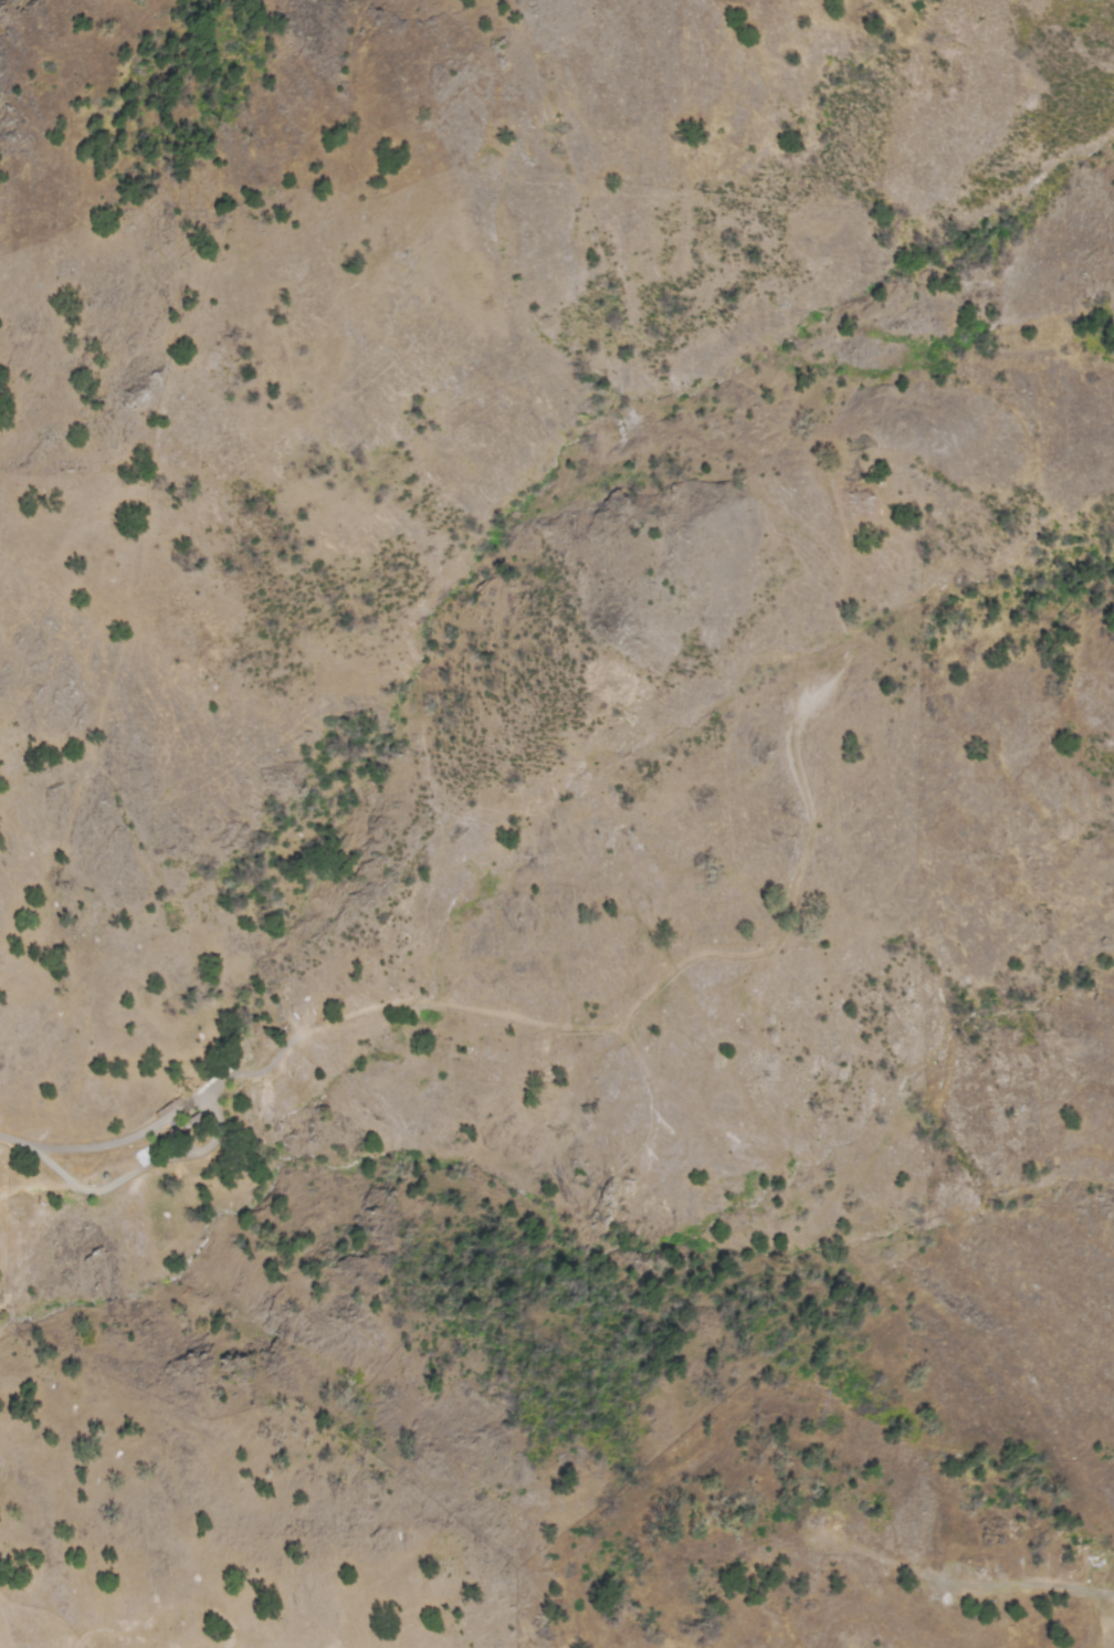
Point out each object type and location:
road: (159, 1123)

